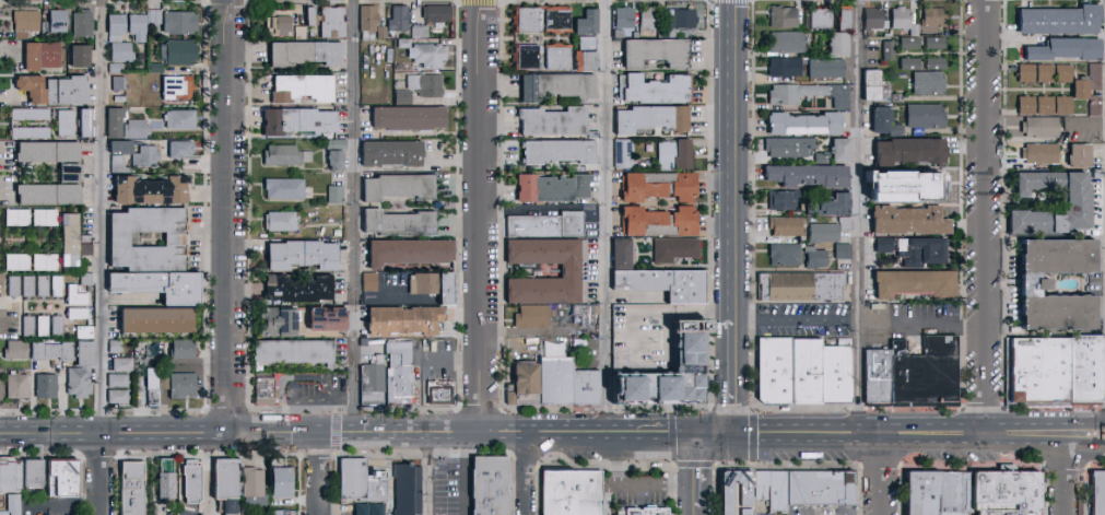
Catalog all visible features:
building: (307, 14)
building: (438, 14)
building: (155, 16)
building: (313, 16)
building: (626, 17)
building: (650, 17)
building: (786, 17)
building: (846, 17)
building: (903, 17)
building: (937, 17)
building: (400, 19)
building: (528, 19)
building: (683, 19)
building: (821, 19)
building: (877, 19)
building: (560, 20)
building: (27, 21)
building: (59, 21)
building: (334, 22)
building: (369, 22)
building: (589, 22)
building: (1061, 22)
building: (181, 23)
building: (281, 23)
building: (84, 24)
building: (118, 24)
building: (139, 27)
building: (46, 30)
building: (917, 31)
building: (421, 32)
building: (302, 33)
building: (384, 33)
building: (620, 34)
building: (23, 35)
building: (789, 42)
building: (840, 43)
building: (407, 44)
building: (589, 44)
building: (912, 44)
building: (938, 44)
building: (122, 50)
building: (891, 50)
building: (658, 51)
building: (1067, 51)
building: (179, 52)
building: (306, 52)
building: (431, 55)
building: (43, 56)
building: (82, 56)
building: (528, 57)
building: (560, 57)
building: (588, 60)
building: (912, 63)
building: (938, 63)
building: (787, 67)
building: (157, 68)
building: (118, 69)
building: (828, 69)
building: (1027, 74)
building: (1046, 74)
building: (1065, 74)
building: (1096, 78)
building: (157, 79)
building: (930, 83)
building: (120, 84)
building: (178, 85)
building: (427, 85)
building: (559, 85)
building: (877, 86)
building: (304, 87)
building: (55, 89)
building: (656, 89)
building: (1082, 90)
building: (810, 94)
building: (405, 97)
building: (1027, 106)
building: (1046, 106)
building: (1065, 106)
building: (1096, 107)
building: (31, 115)
building: (927, 116)
building: (411, 117)
building: (181, 119)
building: (655, 119)
building: (299, 120)
building: (117, 121)
building: (555, 121)
building: (886, 122)
building: (67, 124)
building: (89, 124)
building: (807, 124)
building: (137, 129)
building: (1042, 129)
building: (31, 132)
building: (920, 132)
building: (596, 134)
building: (338, 144)
building: (122, 148)
building: (792, 148)
building: (183, 150)
building: (843, 150)
building: (563, 152)
building: (913, 152)
building: (395, 153)
building: (626, 154)
building: (287, 155)
building: (678, 155)
building: (1042, 155)
building: (148, 157)
building: (1081, 157)
building: (824, 159)
building: (338, 160)
road: (732, 160)
building: (120, 165)
building: (71, 173)
building: (810, 176)
building: (928, 183)
building: (401, 187)
building: (554, 188)
building: (1096, 188)
building: (286, 189)
building: (152, 190)
building: (885, 190)
building: (338, 195)
building: (786, 200)
building: (690, 203)
building: (1078, 204)
building: (823, 207)
road: (355, 210)
road: (484, 210)
road: (606, 210)
road: (984, 210)
road: (860, 211)
road: (228, 215)
road: (104, 216)
building: (19, 218)
building: (46, 218)
building: (282, 221)
building: (912, 221)
building: (401, 223)
building: (549, 225)
building: (788, 226)
building: (831, 231)
building: (89, 238)
building: (176, 239)
building: (71, 241)
building: (887, 245)
building: (87, 249)
building: (677, 249)
building: (411, 251)
building: (925, 251)
building: (845, 253)
building: (624, 254)
building: (304, 255)
building: (787, 255)
building: (818, 258)
building: (19, 262)
building: (46, 262)
building: (575, 271)
building: (87, 279)
building: (372, 282)
building: (668, 283)
building: (917, 283)
building: (1033, 283)
building: (162, 285)
building: (435, 285)
building: (14, 286)
building: (28, 286)
building: (803, 286)
building: (44, 288)
building: (58, 288)
building: (299, 288)
building: (77, 296)
building: (79, 314)
building: (588, 314)
building: (534, 317)
road: (796, 318)
building: (328, 319)
building: (158, 320)
building: (405, 320)
building: (279, 323)
building: (30, 326)
building: (44, 326)
building: (58, 326)
road: (921, 327)
building: (85, 332)
road: (732, 336)
building: (117, 348)
building: (17, 350)
building: (185, 350)
building: (52, 351)
building: (86, 352)
building: (296, 352)
road: (432, 359)
building: (379, 360)
building: (125, 365)
building: (774, 371)
building: (806, 372)
building: (401, 374)
building: (835, 374)
building: (670, 375)
building: (1088, 376)
building: (1041, 378)
building: (913, 379)
building: (81, 382)
building: (119, 382)
building: (555, 384)
building: (19, 386)
building: (181, 386)
building: (374, 386)
building: (47, 387)
building: (154, 387)
building: (267, 391)
road: (731, 391)
building: (442, 394)
building: (119, 397)
road: (313, 397)
road: (586, 421)
road: (963, 421)
road: (357, 422)
road: (780, 422)
road: (52, 424)
road: (714, 432)
traffic signals: (731, 432)
road: (169, 433)
traffic signals: (701, 433)
road: (650, 441)
road: (571, 442)
road: (52, 443)
road: (380, 443)
road: (859, 446)
road: (1024, 446)
road: (1085, 446)
road: (701, 469)
building: (33, 473)
road: (208, 473)
road: (103, 475)
building: (10, 476)
building: (349, 477)
building: (63, 478)
building: (227, 478)
road: (315, 479)
road: (427, 479)
road: (465, 479)
road: (528, 479)
building: (166, 480)
road: (1066, 480)
building: (254, 481)
road: (880, 481)
building: (191, 482)
building: (282, 482)
building: (374, 484)
road: (637, 484)
parking lot: (451, 485)
building: (490, 485)
building: (132, 489)
building: (405, 489)
building: (813, 489)
building: (848, 489)
building: (777, 492)
building: (955, 492)
building: (569, 493)
building: (736, 493)
building: (924, 493)
building: (1006, 493)
building: (1097, 493)
road: (608, 496)
building: (13, 504)
building: (365, 508)
building: (644, 510)
road: (700, 511)
building: (274, 512)
building: (954, 513)
building: (232, 514)
building: (759, 514)

